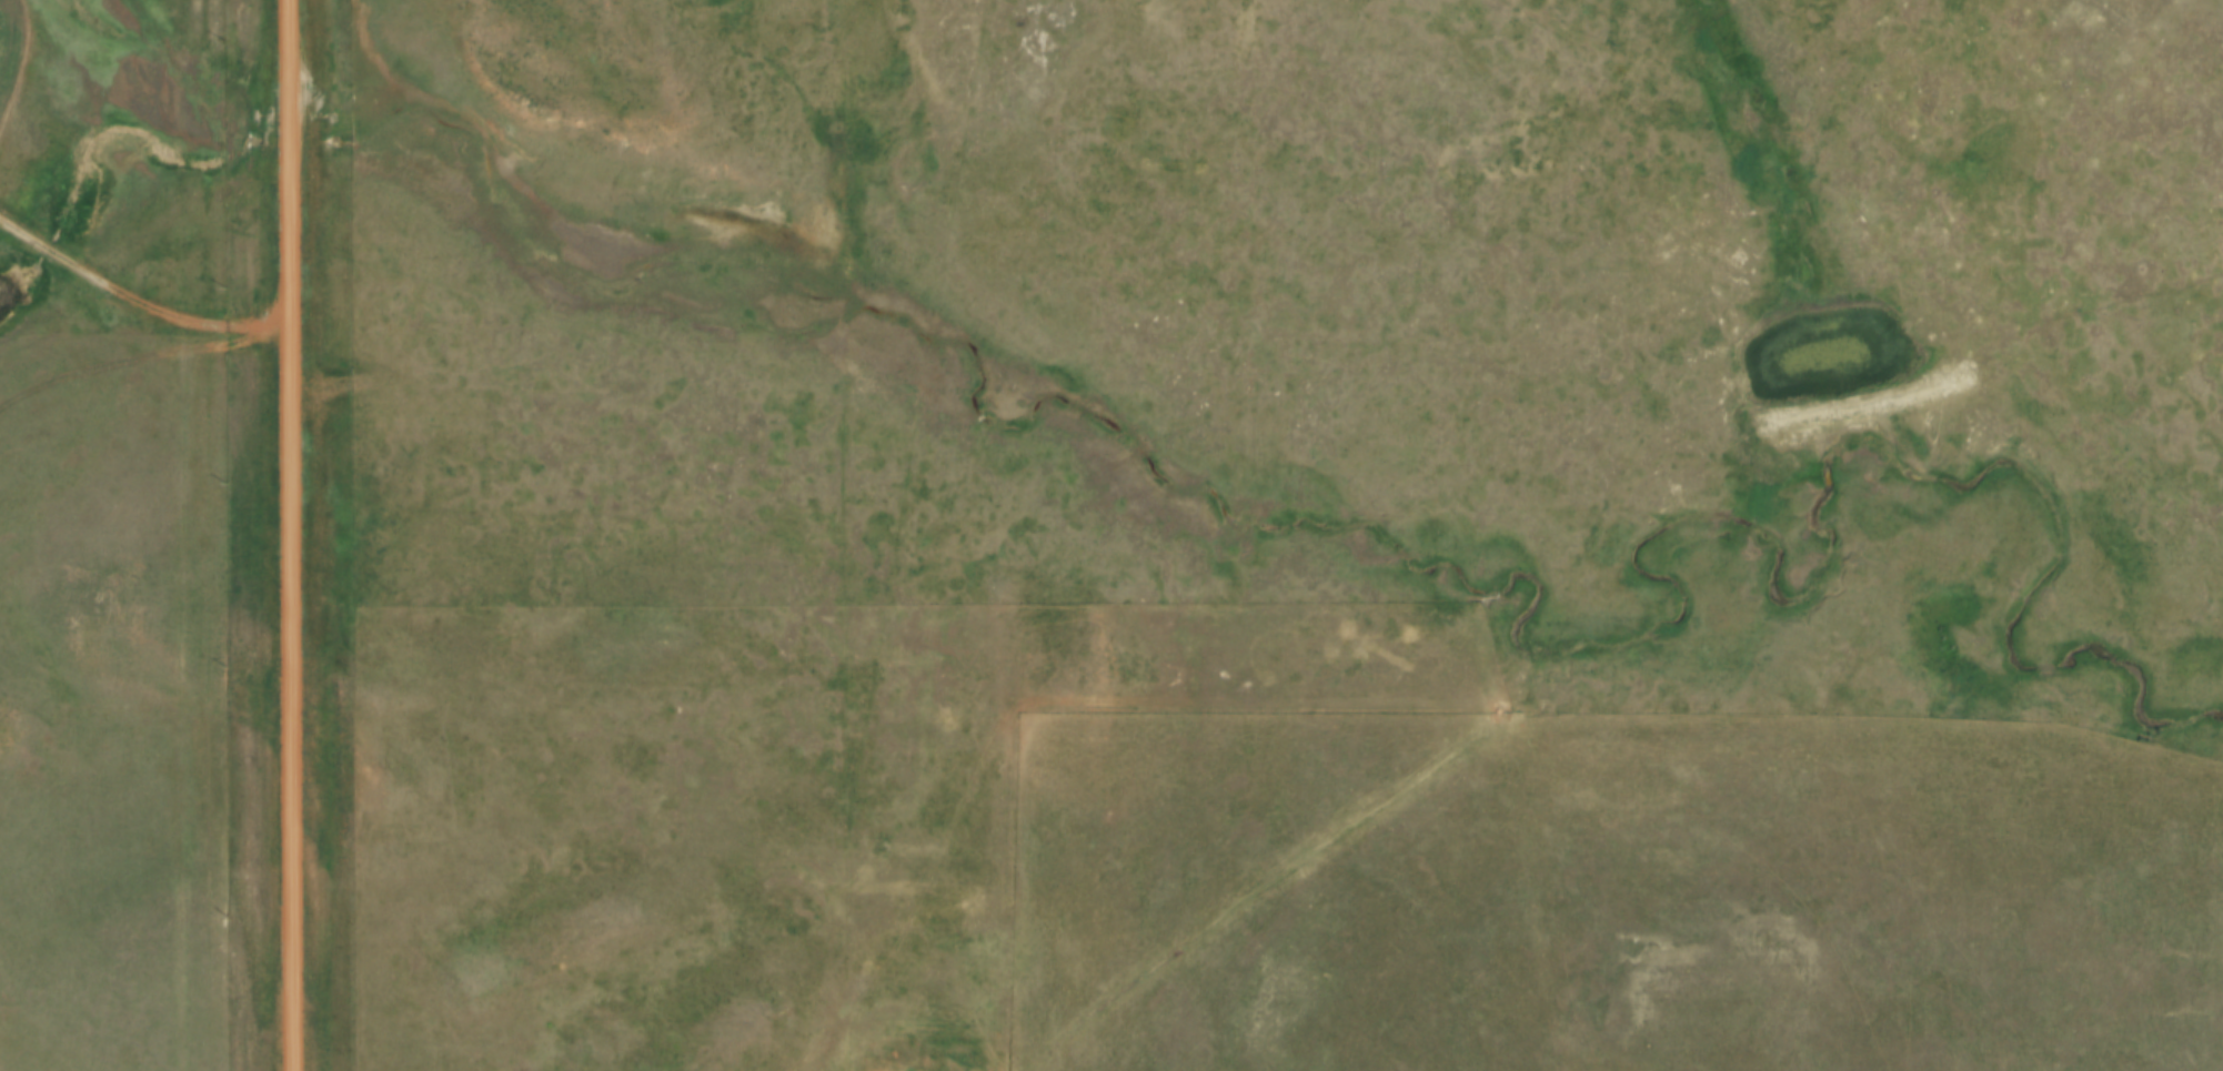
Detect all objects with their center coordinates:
road: (1550, 21)
road: (141, 303)
road: (290, 535)

